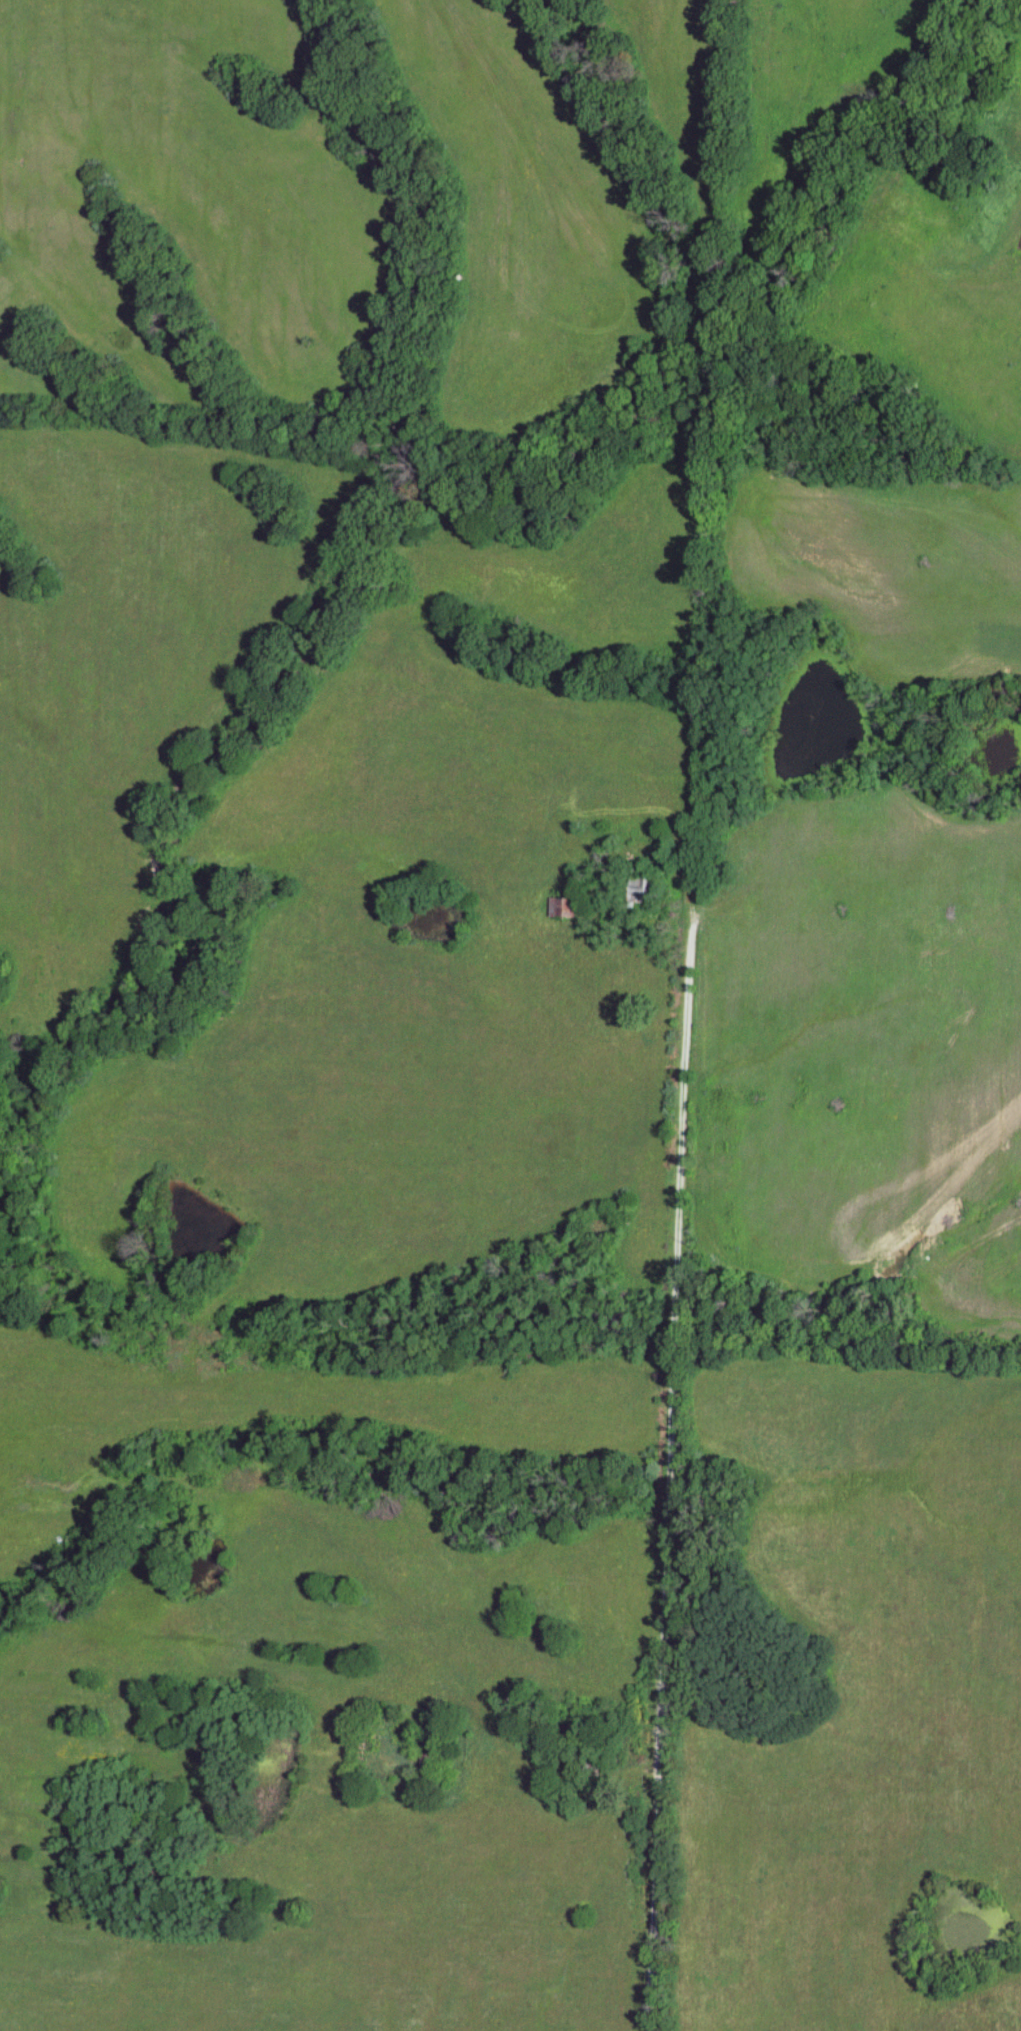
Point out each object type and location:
building: (643, 892)
road: (663, 1476)

